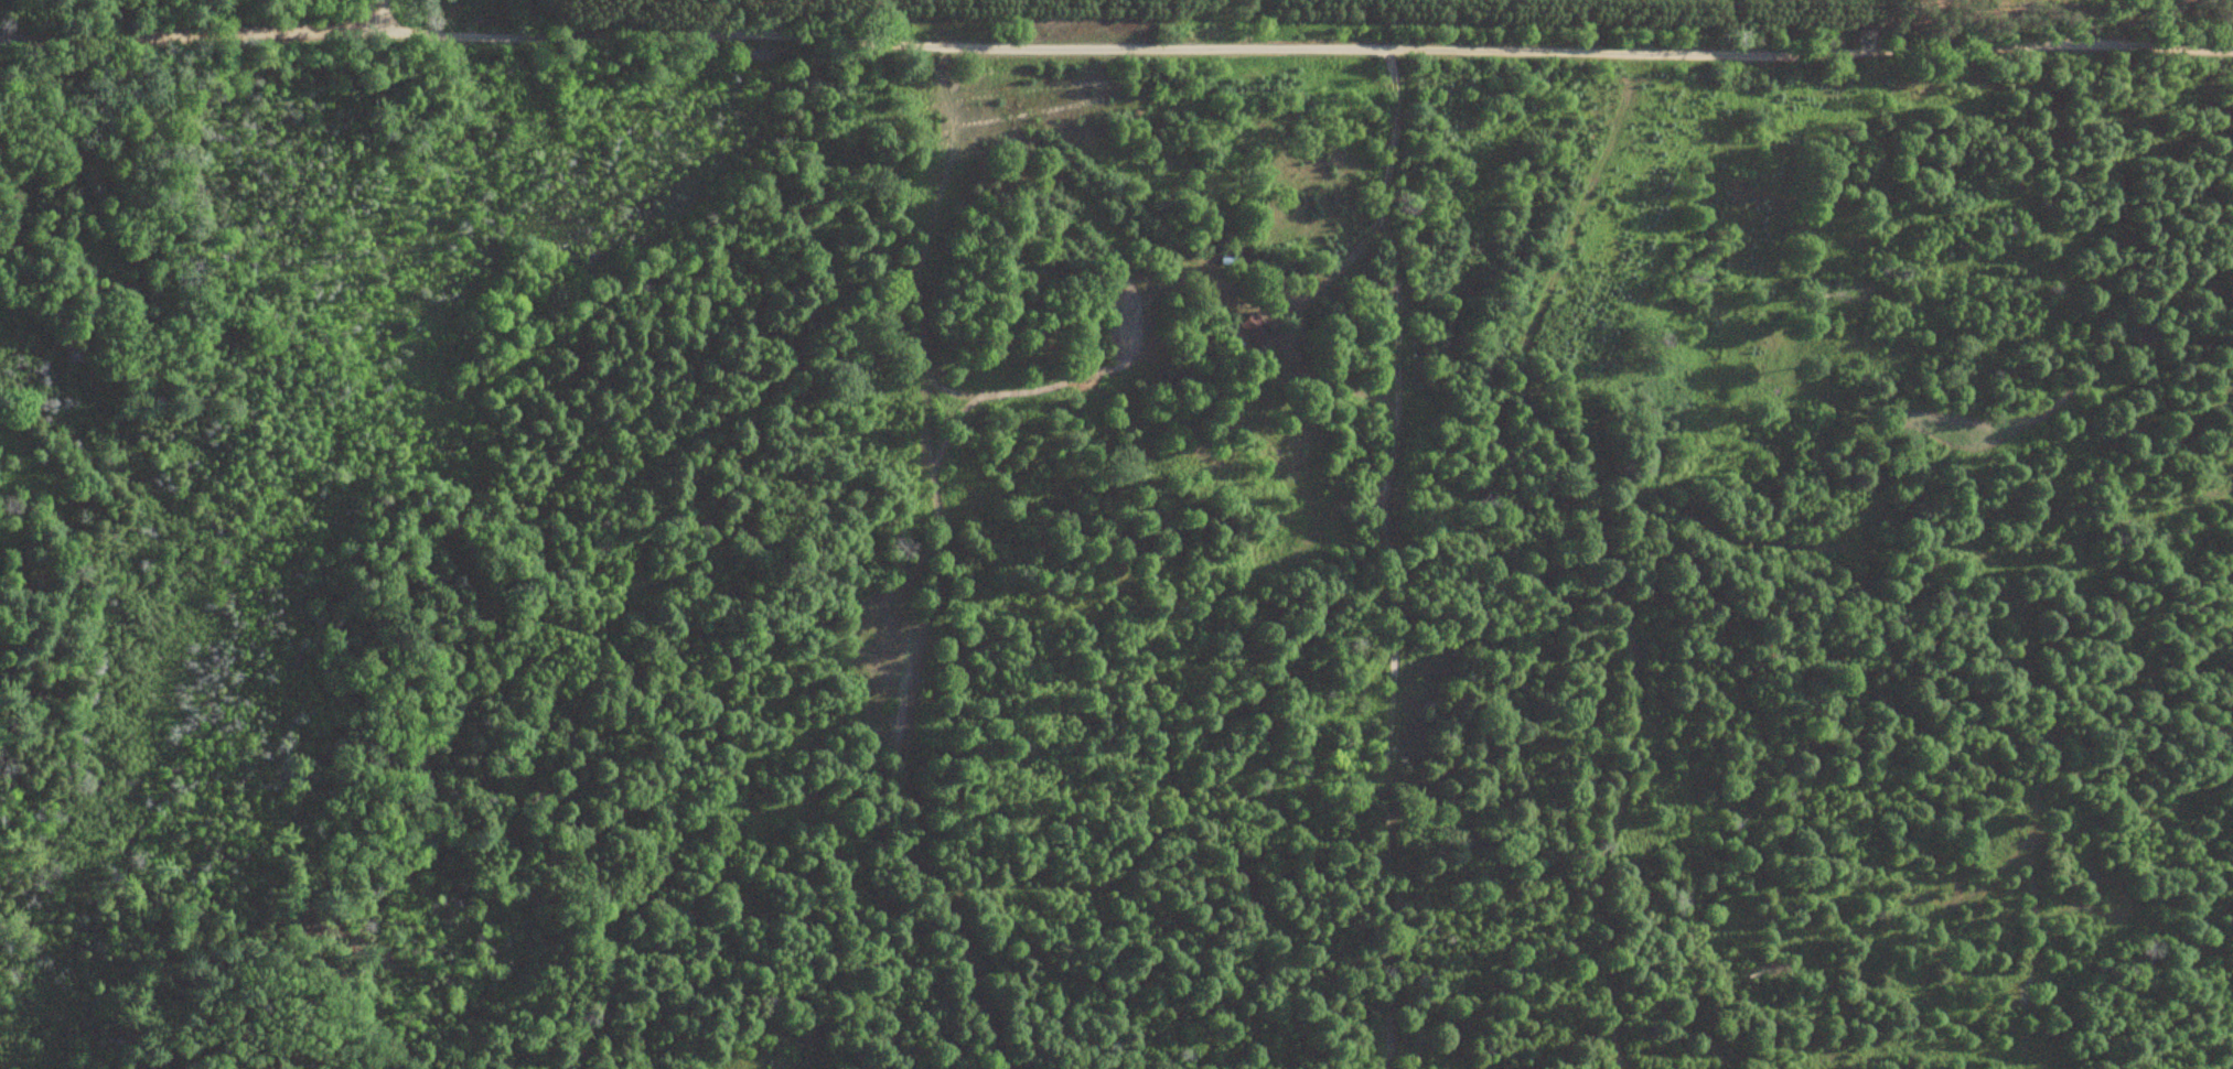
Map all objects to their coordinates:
road: (383, 13)
road: (1116, 51)
building: (1257, 328)

